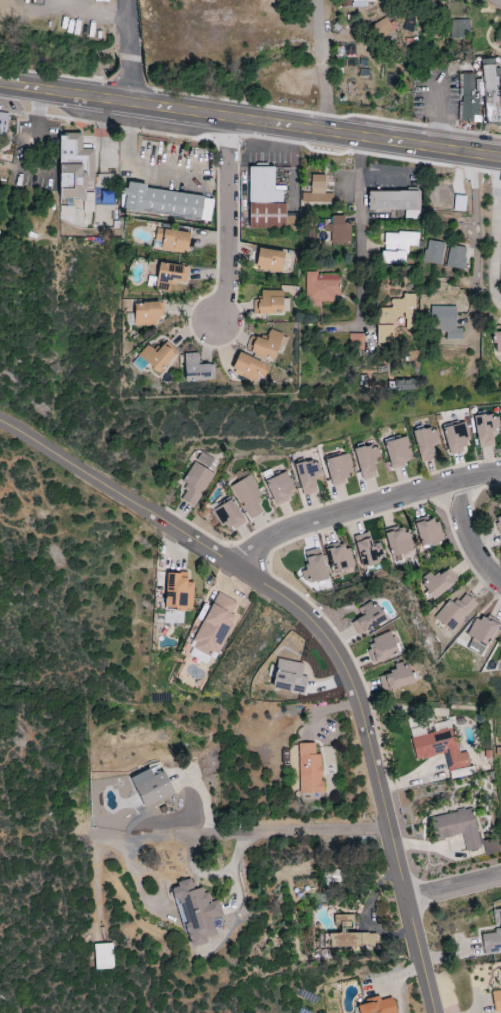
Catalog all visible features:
building: (460, 28)
building: (384, 29)
road: (130, 51)
road: (321, 65)
road: (250, 119)
building: (3, 124)
street lamp: (141, 133)
street lamp: (243, 149)
road: (132, 171)
building: (317, 191)
road: (359, 198)
building: (265, 200)
building: (393, 200)
building: (165, 202)
road: (498, 206)
road: (229, 220)
road: (474, 228)
road: (494, 229)
building: (339, 230)
building: (173, 240)
building: (397, 247)
building: (433, 252)
building: (456, 257)
building: (270, 260)
building: (321, 288)
building: (271, 303)
building: (147, 314)
building: (399, 318)
building: (446, 322)
building: (385, 334)
building: (355, 341)
building: (498, 343)
building: (267, 345)
building: (158, 357)
building: (250, 367)
building: (197, 368)
building: (406, 385)
building: (486, 430)
building: (456, 437)
building: (427, 443)
building: (399, 452)
building: (204, 460)
building: (367, 461)
building: (340, 469)
road: (78, 470)
building: (308, 476)
building: (195, 484)
building: (281, 488)
building: (249, 498)
road: (362, 507)
building: (500, 513)
building: (229, 515)
building: (498, 526)
building: (428, 531)
road: (466, 536)
building: (398, 542)
building: (368, 551)
building: (341, 558)
building: (314, 566)
building: (439, 582)
building: (457, 611)
building: (369, 618)
road: (311, 622)
building: (484, 630)
building: (382, 648)
building: (500, 660)
building: (290, 677)
building: (396, 677)
building: (440, 749)
building: (310, 770)
building: (153, 787)
building: (457, 828)
road: (249, 841)
road: (453, 889)
road: (405, 902)
building: (196, 913)
building: (350, 934)
building: (493, 936)
building: (103, 957)
building: (497, 1001)
building: (378, 1006)

